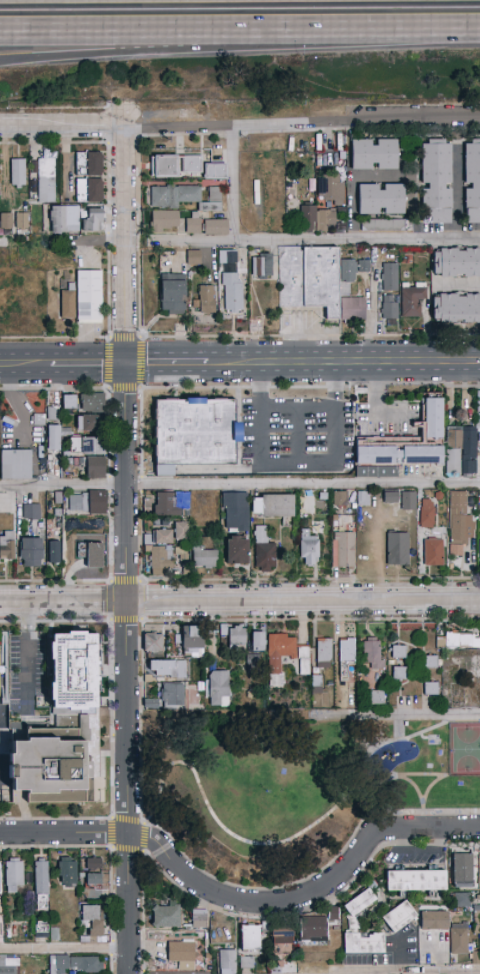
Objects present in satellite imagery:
road: (387, 32)
road: (147, 33)
road: (147, 47)
road: (55, 108)
road: (240, 125)
road: (359, 128)
road: (179, 135)
road: (231, 135)
road: (121, 142)
road: (53, 143)
building: (374, 154)
building: (89, 163)
building: (191, 164)
building: (164, 166)
building: (215, 171)
building: (18, 173)
building: (46, 180)
road: (232, 183)
building: (436, 183)
building: (472, 183)
road: (106, 188)
building: (330, 189)
building: (89, 190)
road: (457, 193)
building: (184, 197)
building: (380, 199)
building: (64, 219)
building: (316, 219)
building: (22, 220)
building: (5, 221)
building: (165, 221)
building: (92, 222)
building: (382, 225)
building: (193, 226)
building: (215, 227)
road: (314, 239)
road: (62, 241)
road: (106, 241)
road: (147, 249)
building: (193, 257)
building: (228, 257)
building: (456, 262)
building: (262, 266)
building: (390, 277)
building: (318, 281)
building: (232, 292)
road: (107, 293)
building: (89, 296)
building: (172, 296)
building: (207, 299)
building: (413, 301)
building: (67, 305)
building: (388, 308)
building: (459, 308)
road: (373, 317)
road: (210, 337)
road: (54, 338)
road: (123, 338)
road: (107, 362)
road: (153, 363)
road: (330, 363)
road: (34, 364)
road: (97, 364)
road: (139, 378)
road: (310, 387)
road: (53, 388)
building: (479, 399)
building: (64, 401)
building: (92, 403)
building: (73, 405)
road: (297, 405)
building: (53, 414)
building: (36, 417)
building: (90, 423)
building: (478, 428)
road: (107, 433)
road: (139, 433)
building: (195, 433)
road: (298, 435)
building: (54, 438)
building: (404, 444)
building: (89, 446)
building: (461, 452)
building: (15, 465)
road: (298, 465)
building: (95, 468)
road: (240, 484)
road: (108, 485)
road: (140, 485)
building: (386, 496)
building: (340, 498)
building: (408, 501)
building: (87, 502)
building: (171, 504)
building: (272, 506)
building: (206, 507)
building: (30, 512)
building: (234, 512)
building: (426, 513)
building: (459, 521)
building: (180, 531)
road: (108, 536)
building: (163, 536)
road: (140, 537)
building: (7, 546)
building: (479, 546)
building: (54, 547)
building: (397, 548)
building: (308, 549)
building: (343, 549)
road: (125, 550)
building: (237, 550)
building: (263, 551)
building: (31, 552)
building: (432, 552)
building: (87, 553)
building: (204, 557)
building: (160, 561)
road: (310, 579)
road: (54, 581)
road: (109, 581)
road: (239, 600)
building: (236, 634)
building: (192, 641)
building: (257, 641)
building: (458, 641)
building: (153, 642)
building: (347, 650)
building: (398, 651)
building: (324, 653)
building: (373, 653)
road: (28, 655)
building: (285, 657)
building: (252, 662)
building: (430, 662)
building: (167, 668)
building: (398, 673)
building: (220, 688)
building: (430, 688)
building: (178, 696)
building: (376, 697)
road: (397, 715)
road: (111, 719)
road: (142, 720)
building: (59, 727)
road: (407, 737)
park: (465, 750)
road: (443, 776)
park: (293, 784)
road: (452, 812)
road: (264, 845)
road: (112, 846)
road: (56, 849)
building: (462, 870)
building: (67, 871)
building: (93, 871)
road: (357, 874)
building: (14, 875)
building: (415, 880)
building: (41, 883)
road: (183, 890)
road: (109, 895)
building: (461, 900)
road: (243, 904)
road: (141, 911)
building: (329, 912)
building: (166, 917)
building: (398, 917)
building: (92, 919)
building: (199, 919)
building: (352, 920)
building: (41, 929)
building: (312, 929)
building: (250, 937)
building: (281, 941)
building: (459, 942)
road: (110, 948)
road: (64, 949)
building: (182, 953)
building: (227, 962)
building: (246, 962)
building: (75, 964)
road: (110, 964)
building: (9, 965)
road: (142, 972)
road: (434, 973)

